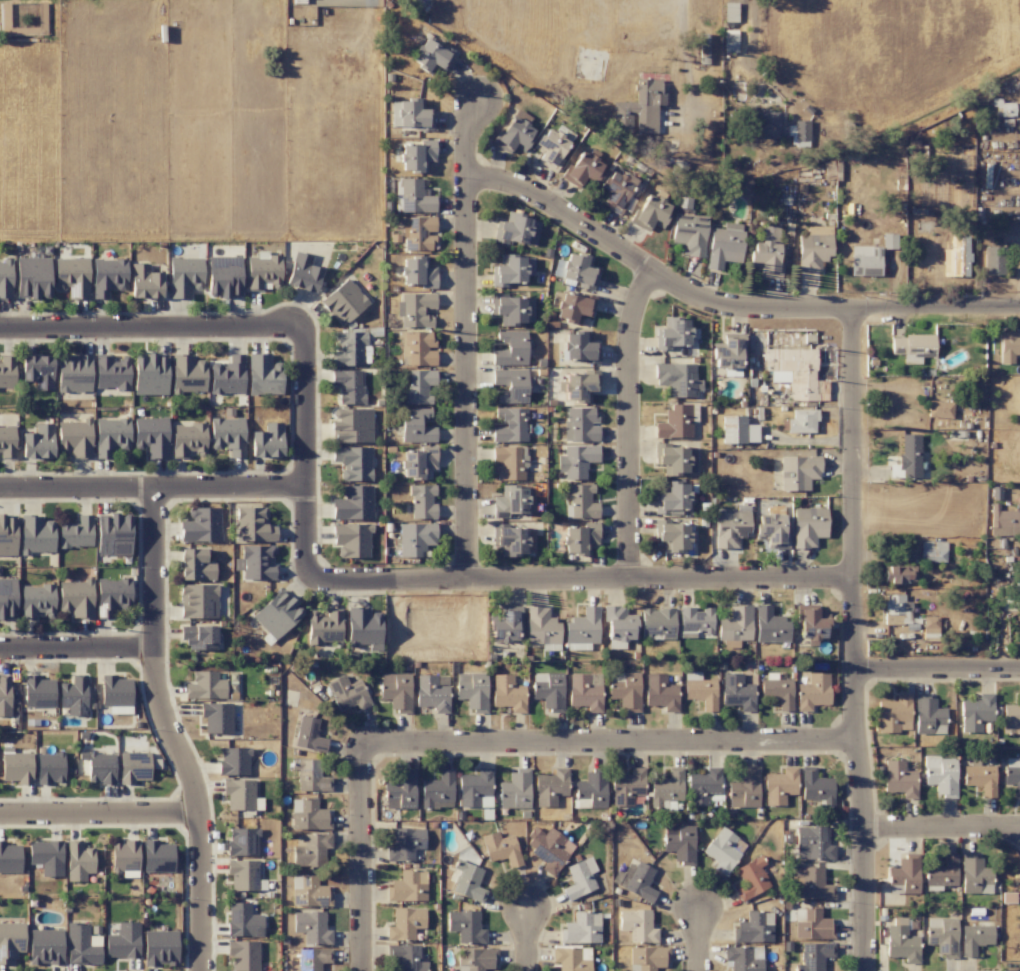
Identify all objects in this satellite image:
building: (42, 21)
road: (754, 26)
building: (699, 48)
road: (685, 55)
building: (431, 57)
building: (640, 108)
building: (1002, 108)
building: (410, 114)
building: (777, 128)
building: (513, 133)
building: (551, 147)
building: (416, 155)
building: (582, 170)
building: (618, 192)
building: (415, 197)
building: (649, 213)
building: (516, 230)
building: (417, 233)
building: (689, 234)
building: (889, 241)
building: (724, 245)
building: (814, 248)
building: (957, 256)
building: (864, 260)
building: (993, 261)
building: (511, 270)
building: (578, 270)
building: (263, 271)
building: (417, 272)
building: (302, 273)
building: (108, 276)
building: (184, 276)
building: (224, 276)
building: (71, 277)
building: (32, 278)
building: (5, 279)
building: (145, 282)
building: (343, 302)
road: (729, 304)
building: (572, 306)
building: (416, 309)
building: (513, 309)
road: (152, 329)
building: (672, 333)
road: (468, 339)
building: (1009, 346)
building: (579, 347)
building: (913, 347)
building: (350, 348)
building: (419, 348)
building: (511, 348)
building: (728, 353)
building: (37, 371)
building: (795, 372)
building: (7, 373)
building: (73, 373)
building: (111, 373)
building: (150, 374)
building: (187, 374)
building: (263, 375)
building: (227, 376)
building: (677, 379)
building: (511, 385)
building: (579, 385)
building: (349, 386)
building: (419, 387)
building: (939, 409)
building: (800, 421)
road: (629, 422)
building: (674, 423)
building: (580, 424)
building: (351, 425)
building: (510, 425)
building: (416, 426)
building: (737, 430)
building: (227, 435)
building: (111, 436)
building: (151, 436)
building: (74, 438)
building: (188, 440)
building: (267, 441)
building: (7, 442)
building: (38, 442)
road: (307, 454)
building: (909, 456)
building: (575, 461)
building: (416, 462)
building: (509, 462)
building: (353, 463)
building: (798, 472)
road: (154, 491)
building: (672, 498)
building: (422, 501)
building: (512, 501)
building: (580, 501)
building: (353, 503)
building: (1004, 523)
building: (200, 525)
building: (253, 525)
building: (771, 526)
building: (808, 526)
building: (731, 528)
building: (76, 533)
building: (113, 534)
building: (7, 535)
building: (35, 535)
building: (672, 535)
building: (415, 538)
building: (580, 538)
building: (351, 539)
building: (513, 539)
building: (932, 551)
building: (255, 563)
building: (195, 565)
building: (898, 574)
road: (581, 577)
building: (1017, 591)
building: (111, 595)
building: (7, 598)
building: (76, 598)
building: (36, 601)
building: (198, 601)
building: (277, 614)
building: (696, 622)
building: (657, 624)
building: (735, 624)
building: (504, 626)
building: (770, 626)
building: (809, 626)
building: (324, 627)
building: (618, 627)
building: (364, 628)
building: (542, 628)
building: (582, 629)
building: (198, 637)
road: (853, 638)
road: (78, 644)
road: (937, 667)
building: (205, 686)
building: (548, 690)
building: (625, 690)
building: (700, 690)
building: (395, 691)
building: (472, 691)
building: (585, 691)
building: (777, 691)
building: (38, 692)
building: (432, 692)
building: (660, 692)
building: (737, 692)
building: (813, 692)
building: (347, 693)
building: (507, 693)
building: (116, 694)
building: (4, 695)
building: (74, 695)
building: (975, 713)
building: (894, 714)
building: (928, 715)
building: (216, 717)
building: (1010, 718)
road: (168, 732)
building: (309, 735)
road: (610, 742)
building: (233, 761)
building: (16, 766)
building: (133, 767)
building: (50, 768)
building: (1012, 773)
building: (940, 775)
building: (310, 776)
building: (899, 779)
building: (980, 779)
building: (626, 786)
building: (704, 786)
building: (779, 786)
building: (550, 787)
building: (816, 788)
building: (437, 789)
building: (475, 789)
building: (666, 789)
building: (744, 789)
building: (400, 790)
building: (514, 790)
building: (591, 791)
building: (241, 795)
road: (98, 812)
building: (308, 815)
road: (943, 828)
building: (242, 841)
building: (679, 843)
building: (812, 843)
building: (405, 844)
building: (500, 848)
building: (548, 848)
building: (311, 850)
building: (723, 850)
building: (46, 857)
building: (157, 857)
road: (364, 857)
building: (9, 858)
building: (124, 858)
building: (78, 861)
building: (942, 872)
building: (905, 873)
building: (243, 874)
building: (974, 875)
building: (579, 878)
building: (750, 878)
building: (467, 881)
building: (636, 881)
building: (813, 883)
building: (408, 886)
building: (308, 892)
building: (243, 920)
building: (405, 923)
building: (637, 925)
building: (813, 925)
building: (465, 926)
building: (311, 927)
building: (581, 928)
building: (754, 928)
road: (526, 937)
building: (974, 938)
road: (697, 939)
building: (10, 941)
building: (123, 941)
building: (901, 944)
building: (82, 945)
building: (45, 946)
building: (160, 947)
building: (243, 955)
building: (814, 956)
building: (406, 957)
building: (312, 958)
building: (571, 958)
building: (647, 958)
building: (744, 958)
building: (475, 959)

